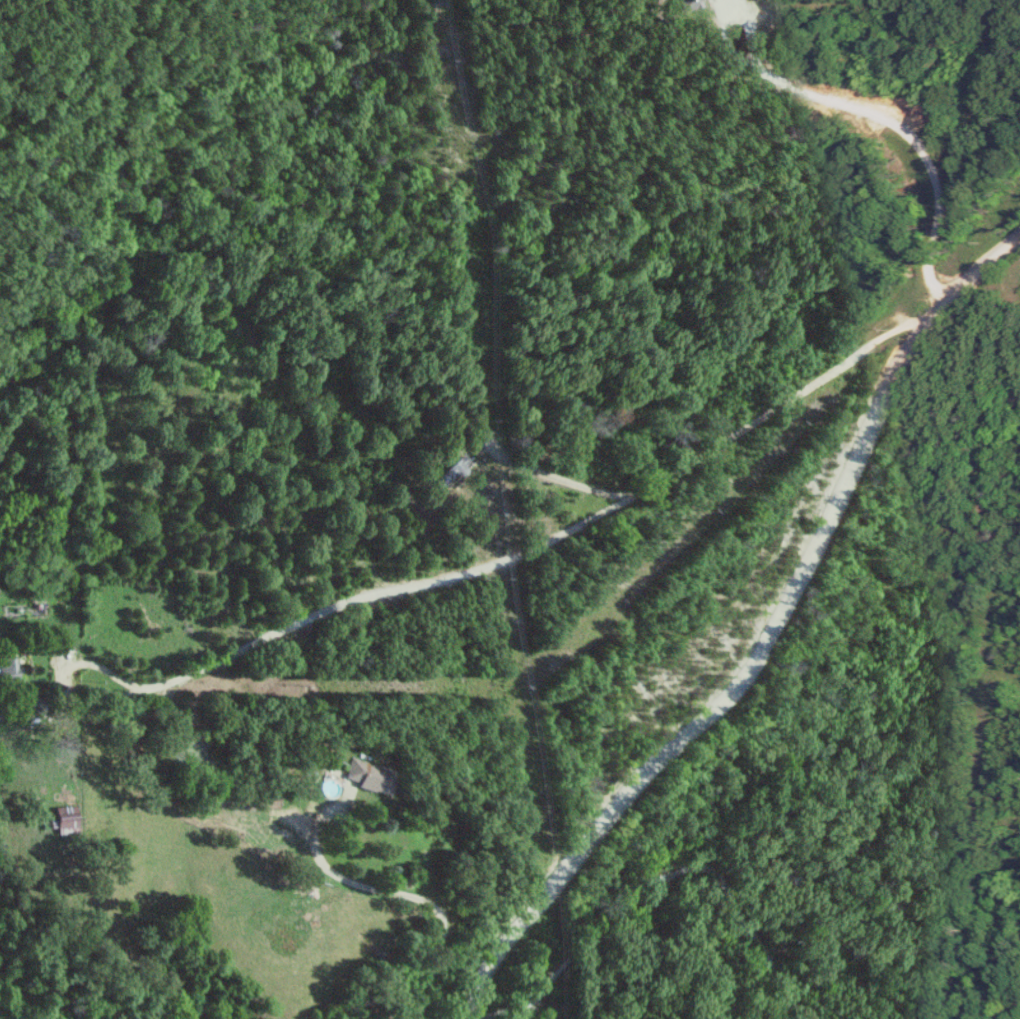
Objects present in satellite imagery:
building: (687, 4)
road: (882, 120)
building: (453, 472)
road: (517, 565)
road: (766, 640)
building: (8, 670)
building: (372, 777)
building: (64, 819)
road: (416, 901)

